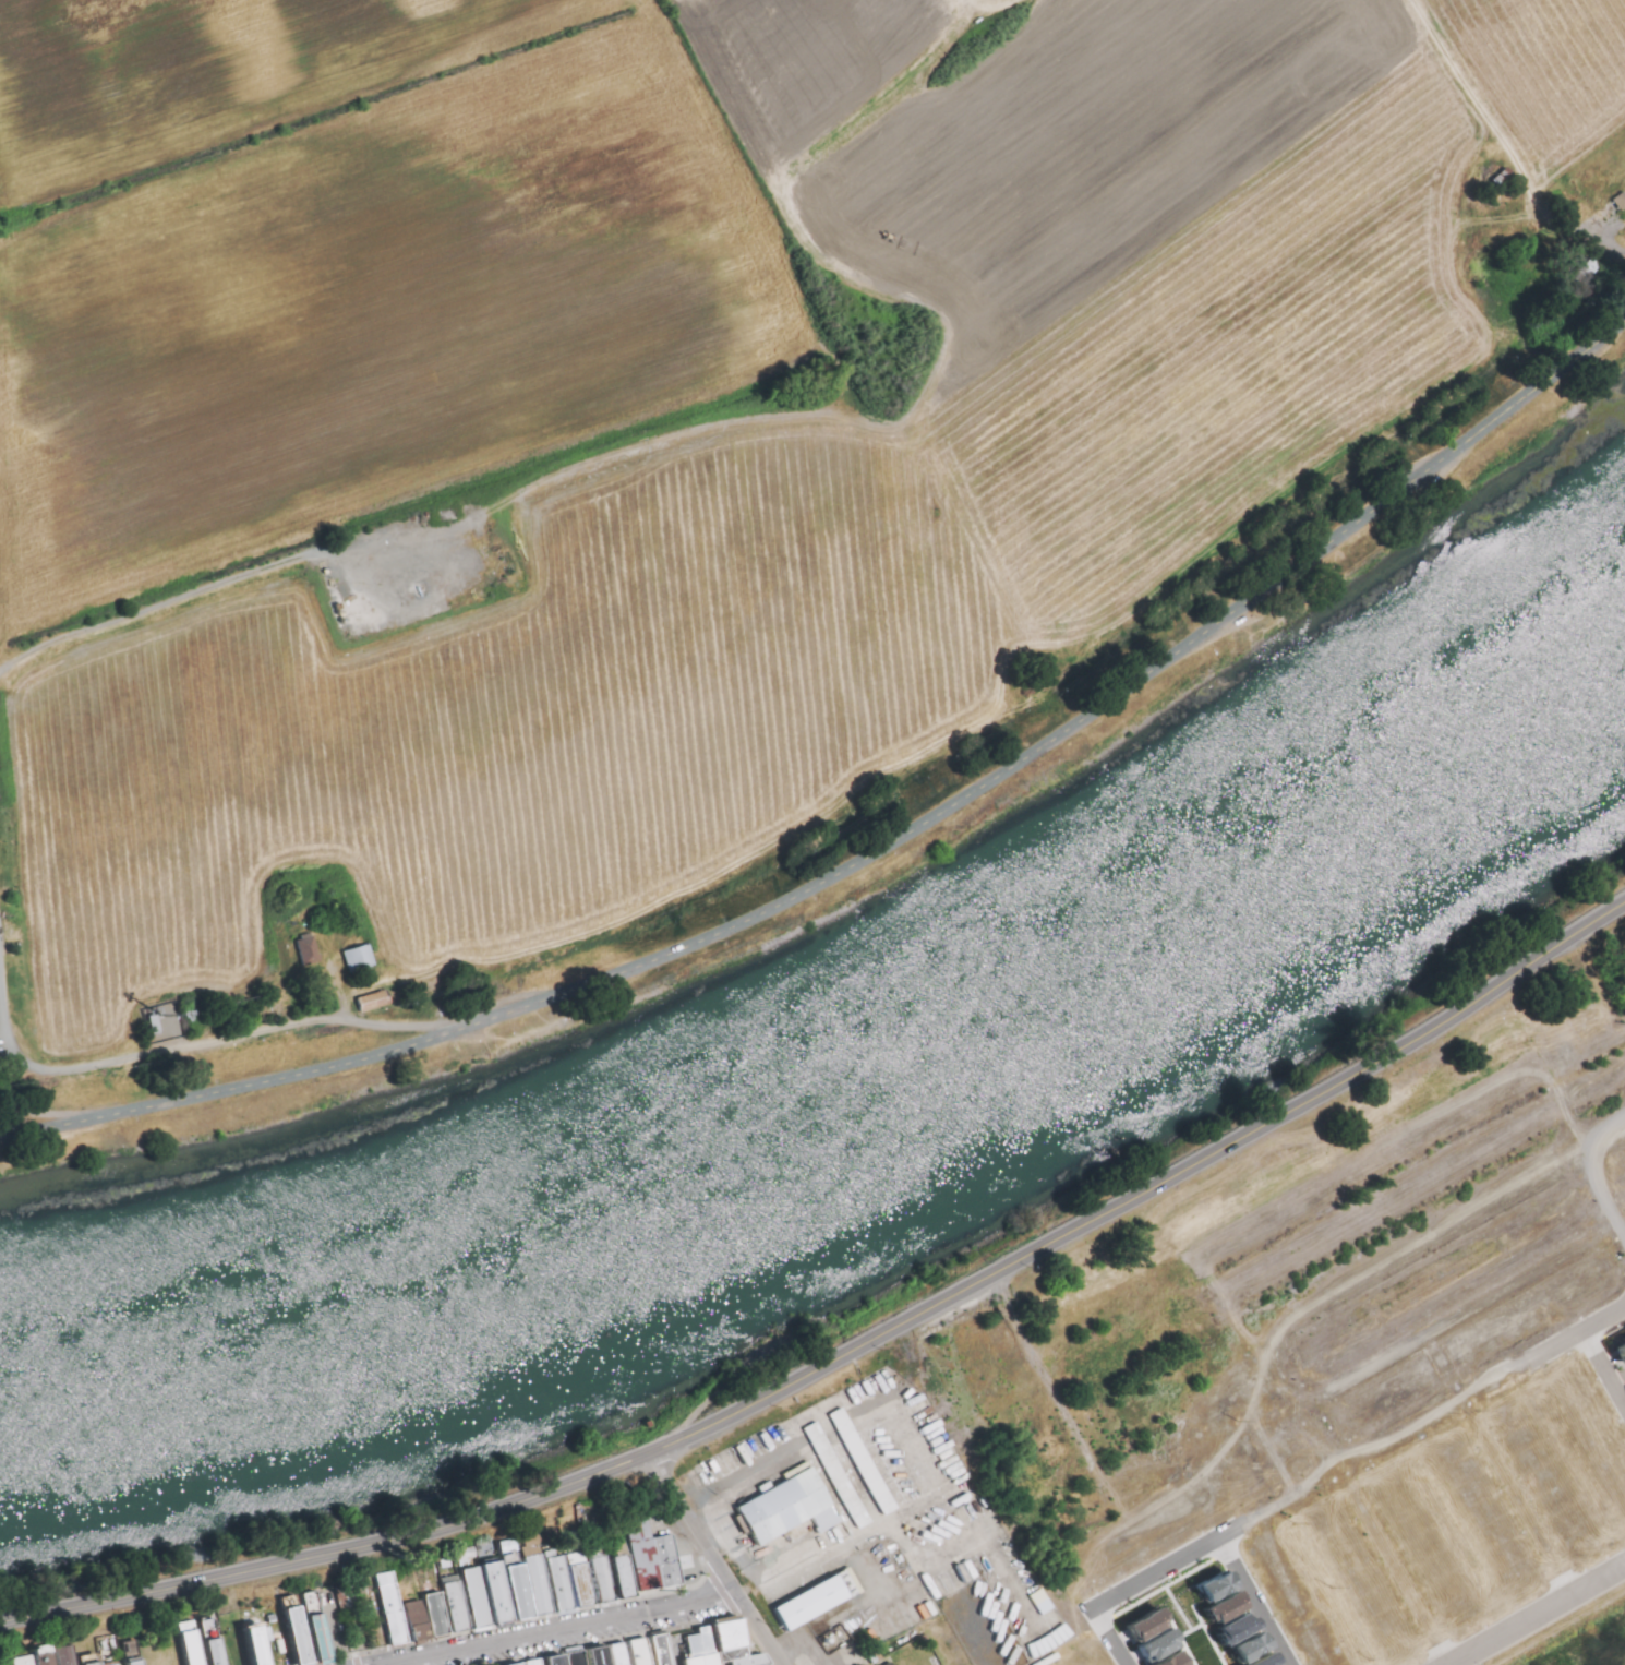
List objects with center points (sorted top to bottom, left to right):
crop: (686, 440)
road: (157, 608)
road: (874, 855)
building: (306, 950)
building: (358, 958)
building: (373, 1001)
road: (218, 1042)
road: (1496, 1083)
river: (863, 1093)
road: (1591, 1173)
road: (1421, 1239)
road: (848, 1352)
building: (1621, 1352)
road: (1543, 1353)
road: (1604, 1366)
road: (1285, 1369)
road: (1335, 1389)
building: (1623, 1392)
road: (1430, 1417)
road: (1324, 1437)
road: (1370, 1452)
road: (1574, 1454)
building: (868, 1462)
building: (842, 1475)
road: (1313, 1485)
road: (1519, 1498)
building: (786, 1506)
road: (1264, 1513)
road: (1453, 1536)
building: (655, 1558)
road: (713, 1560)
road: (1167, 1567)
road: (1396, 1567)
road: (789, 1572)
building: (627, 1576)
road: (1071, 1577)
building: (606, 1578)
building: (565, 1582)
building: (585, 1583)
road: (1328, 1583)
building: (543, 1584)
building: (1216, 1584)
building: (522, 1590)
building: (502, 1591)
building: (481, 1596)
building: (342, 1598)
building: (816, 1602)
building: (1040, 1602)
road: (1256, 1602)
building: (461, 1605)
building: (1227, 1605)
building: (396, 1607)
building: (441, 1613)
road: (1187, 1617)
road: (1540, 1617)
building: (420, 1619)
building: (1148, 1624)
road: (339, 1627)
building: (1239, 1627)
road: (570, 1631)
crop: (1572, 1632)
building: (300, 1633)
building: (322, 1633)
road: (1106, 1637)
park: (372, 1638)
building: (216, 1640)
building: (734, 1640)
park: (164, 1641)
building: (705, 1641)
building: (194, 1643)
building: (260, 1644)
building: (1159, 1644)
building: (1251, 1648)
building: (130, 1650)
building: (663, 1650)
building: (643, 1652)
building: (48, 1653)
building: (72, 1654)
building: (624, 1654)
park: (287, 1655)
building: (602, 1655)
park: (277, 1656)
road: (491, 1656)
building: (581, 1657)
building: (705, 1658)
building: (1176, 1658)
building: (28, 1660)
building: (96, 1660)
building: (135, 1660)
building: (561, 1660)
building: (1265, 1660)
building: (754, 1661)
building: (115, 1663)
building: (890, 1663)
building: (523, 1664)
building: (894, 1664)

